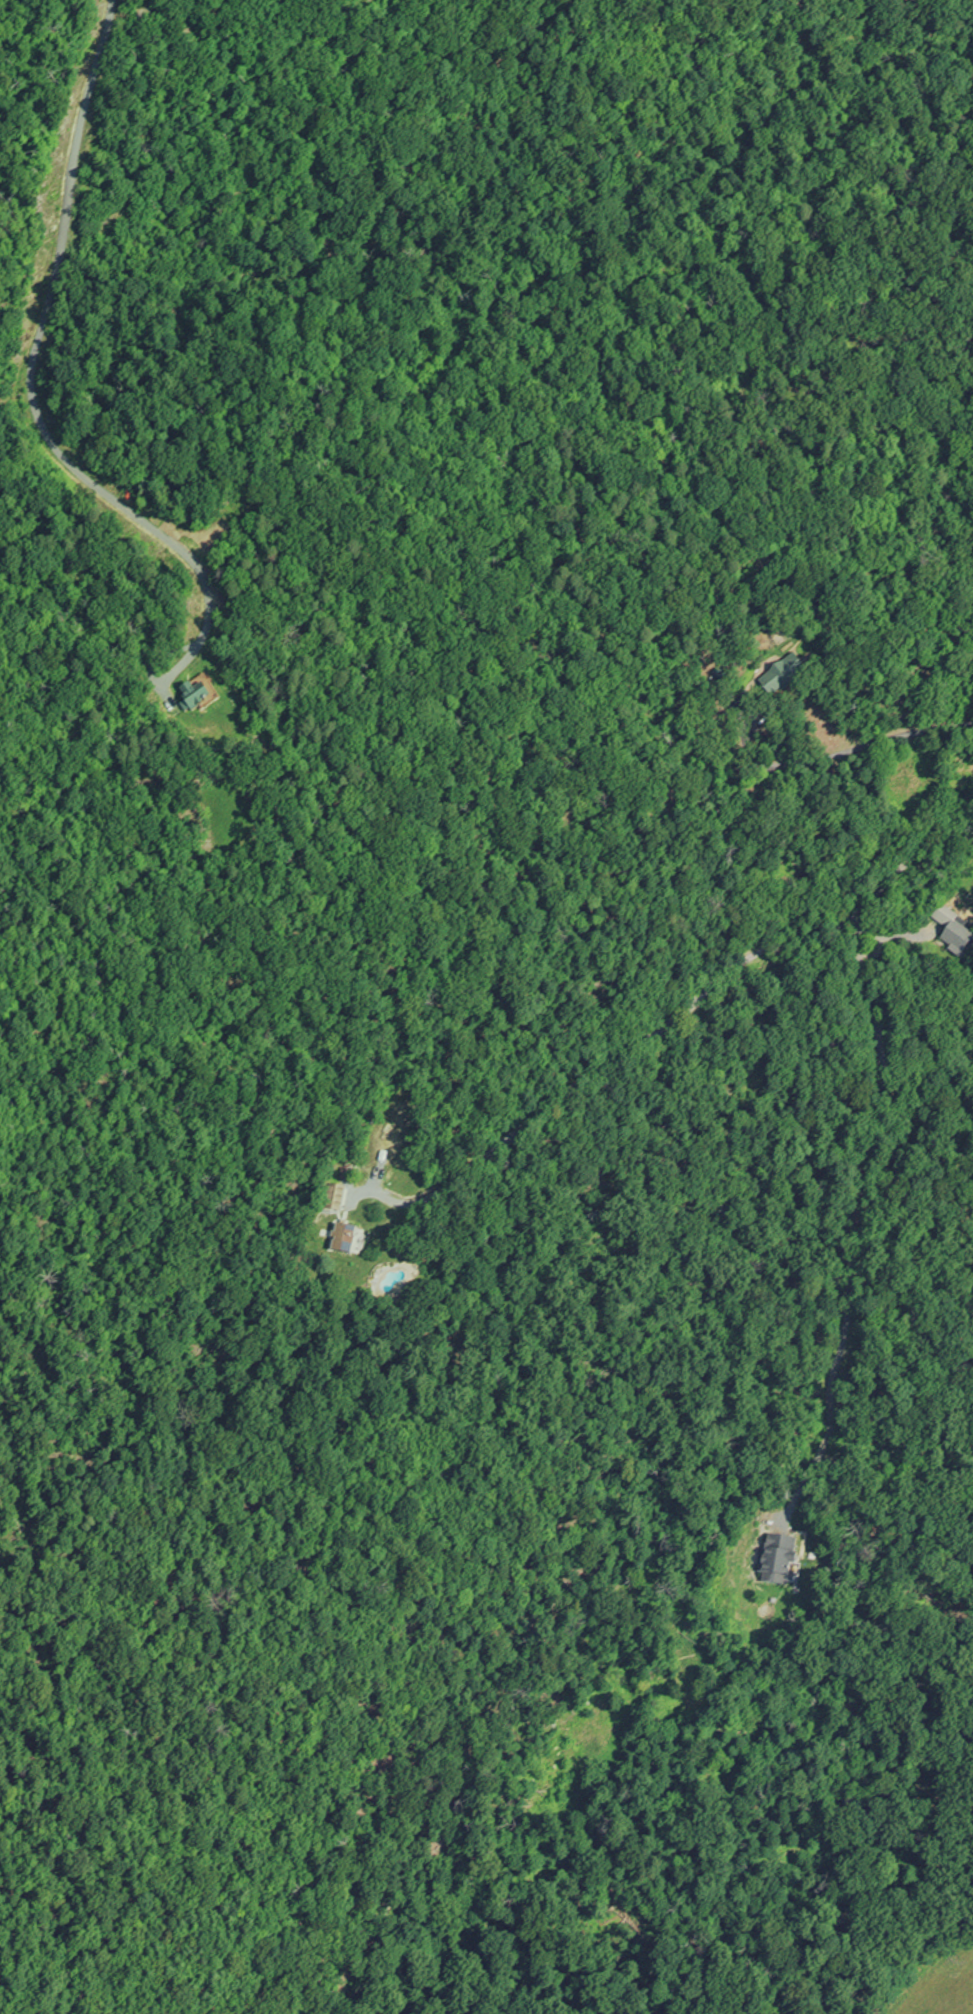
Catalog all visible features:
road: (33, 362)
building: (792, 676)
building: (205, 693)
building: (960, 933)
road: (696, 992)
building: (339, 1200)
road: (860, 1206)
building: (352, 1240)
building: (784, 1561)

